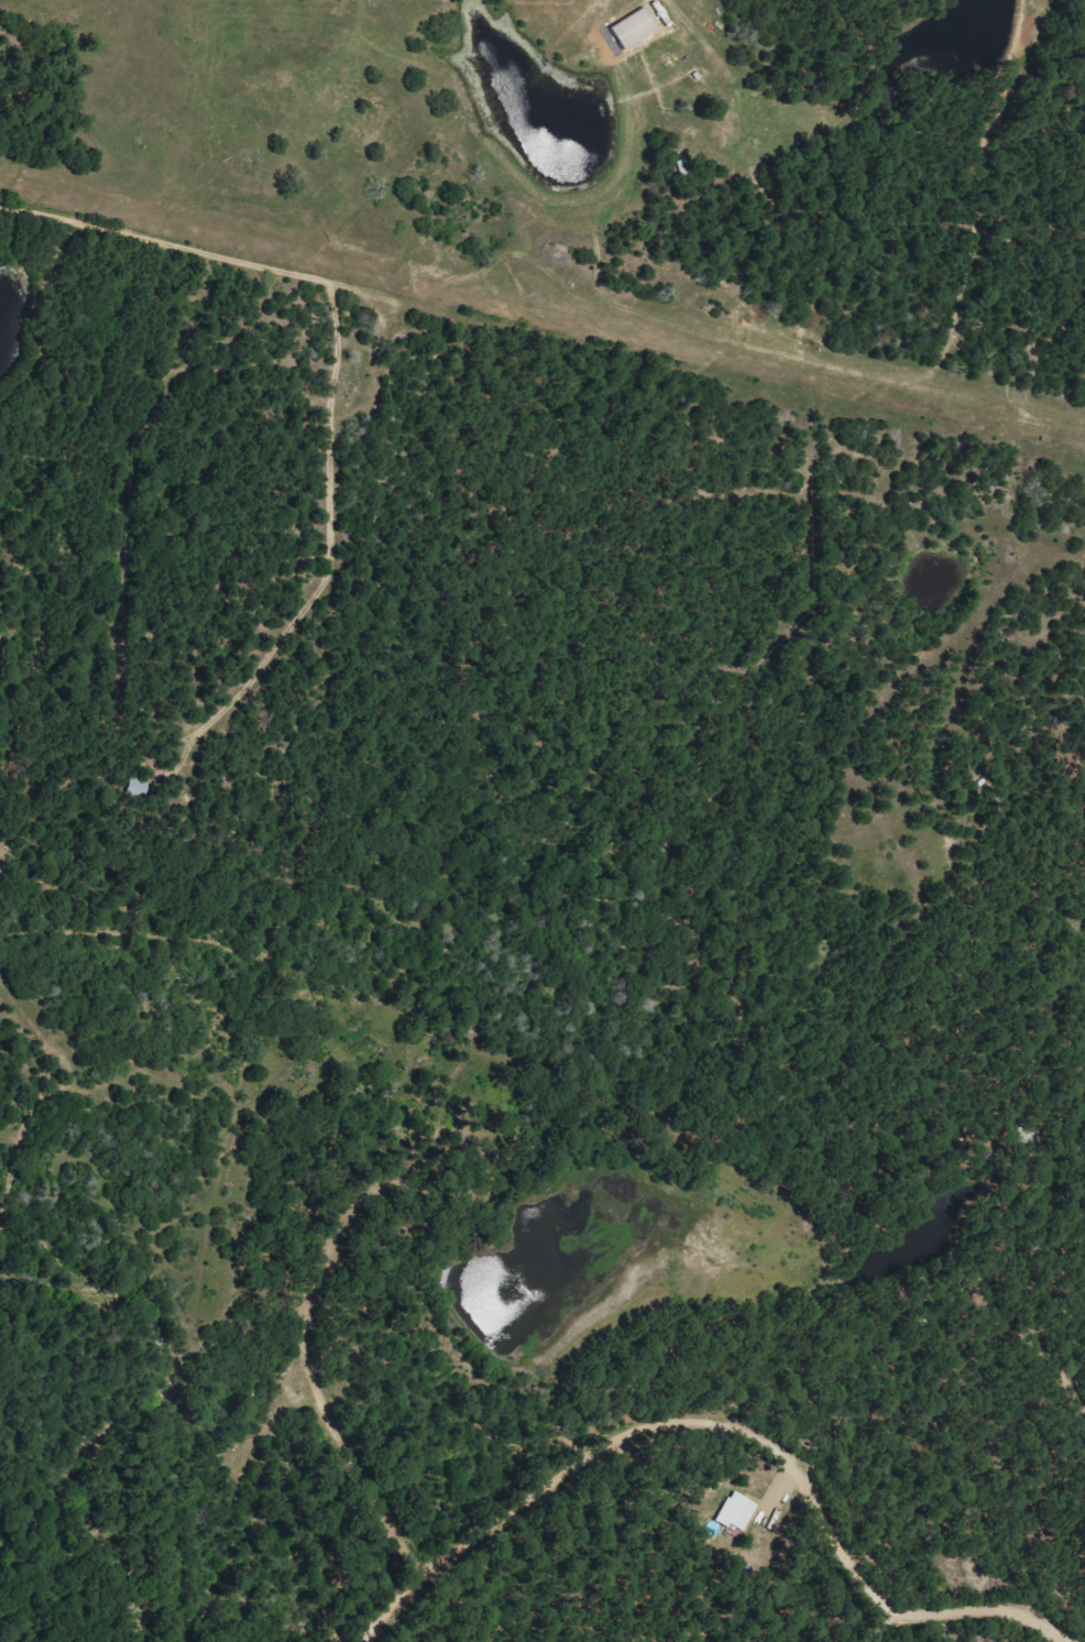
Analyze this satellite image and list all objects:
building: (635, 29)
road: (162, 95)
road: (65, 289)
road: (797, 740)
road: (547, 1192)
road: (753, 1370)
road: (726, 1422)
road: (615, 1497)
building: (737, 1511)
road: (884, 1622)

